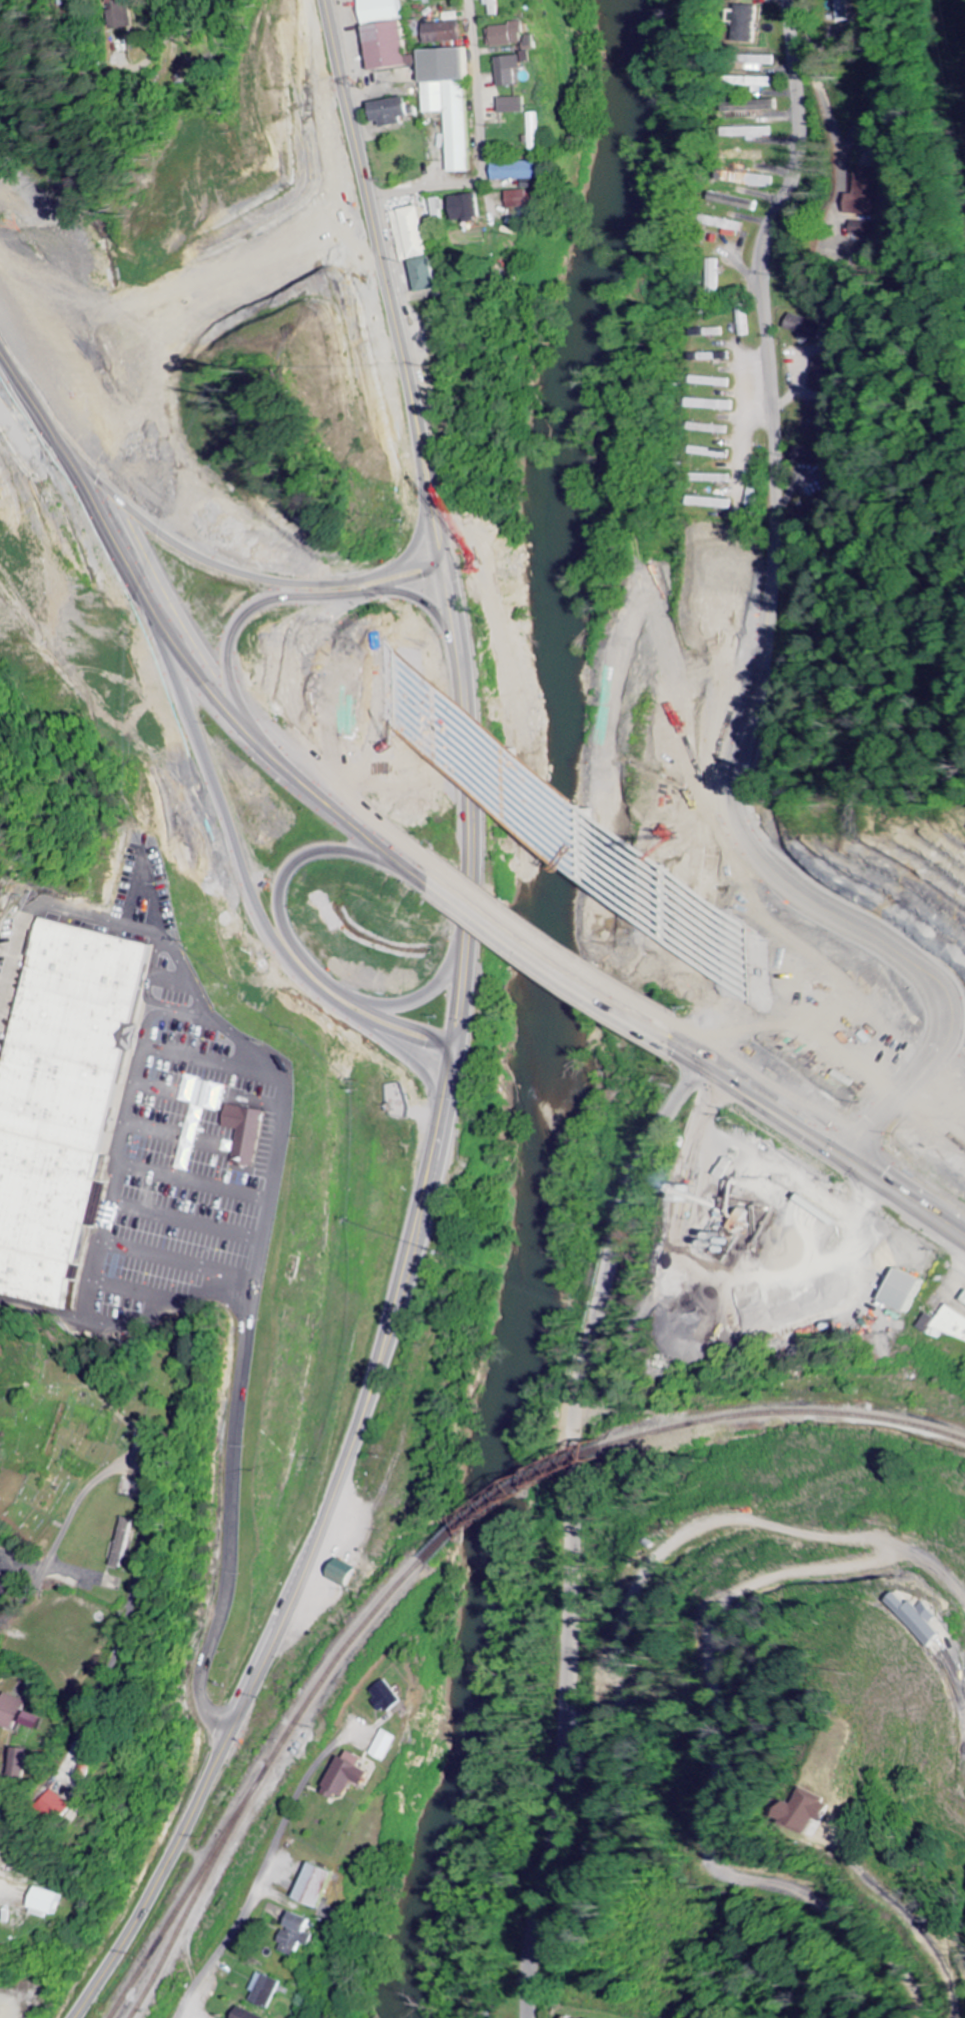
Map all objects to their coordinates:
building: (495, 6)
building: (448, 29)
road: (787, 30)
building: (508, 34)
building: (391, 35)
building: (762, 62)
building: (512, 69)
building: (763, 83)
building: (454, 100)
building: (515, 105)
building: (398, 111)
building: (538, 131)
building: (749, 155)
building: (521, 171)
building: (748, 178)
building: (864, 193)
building: (530, 198)
building: (736, 201)
building: (468, 207)
building: (421, 246)
building: (718, 274)
road: (384, 279)
building: (803, 326)
building: (712, 332)
building: (714, 382)
road: (51, 389)
building: (715, 405)
building: (713, 428)
building: (714, 453)
building: (805, 455)
road: (70, 459)
building: (716, 478)
building: (714, 503)
road: (260, 576)
road: (295, 653)
road: (759, 665)
road: (243, 702)
road: (271, 758)
road: (472, 821)
road: (244, 872)
road: (560, 944)
road: (295, 948)
road: (543, 964)
river: (555, 1014)
road: (403, 1027)
building: (20, 1115)
road: (819, 1120)
building: (249, 1134)
road: (806, 1139)
road: (612, 1252)
building: (910, 1291)
building: (964, 1296)
gas station: (964, 1296)
building: (948, 1325)
railway: (783, 1413)
railway: (508, 1497)
road: (148, 1508)
road: (764, 1541)
building: (125, 1543)
building: (1, 1564)
road: (304, 1568)
building: (347, 1575)
building: (918, 1621)
building: (389, 1698)
building: (10, 1711)
building: (34, 1721)
building: (389, 1746)
road: (567, 1752)
building: (20, 1764)
building: (351, 1777)
railway: (258, 1783)
building: (65, 1804)
building: (811, 1812)
road: (256, 1884)
building: (321, 1887)
building: (48, 1903)
railway: (179, 1934)
building: (300, 1935)
building: (270, 1992)
building: (257, 2016)

